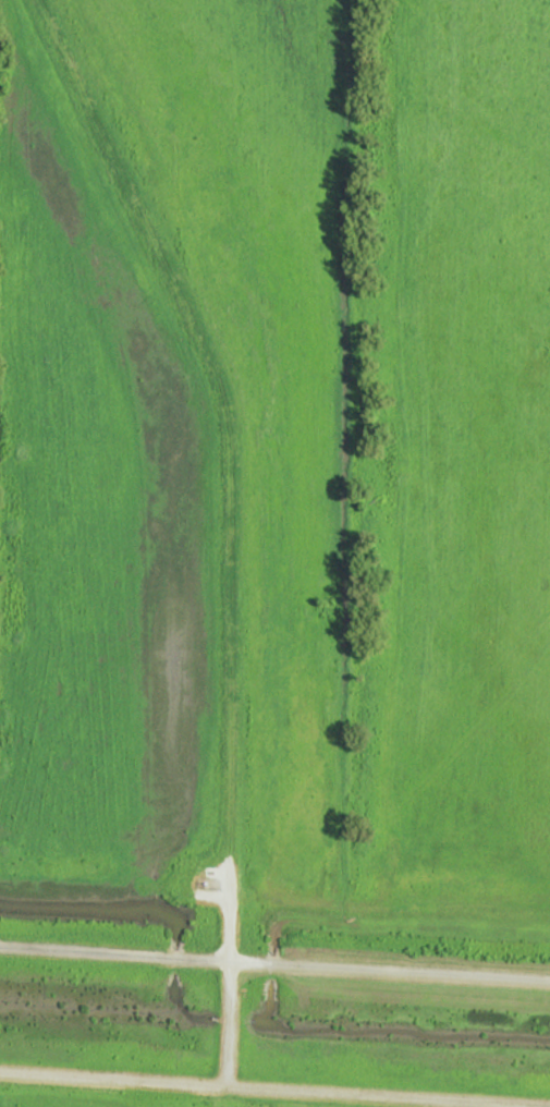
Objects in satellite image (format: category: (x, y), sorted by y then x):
road: (225, 407)
road: (115, 956)
road: (232, 971)
road: (391, 972)
road: (274, 1088)

